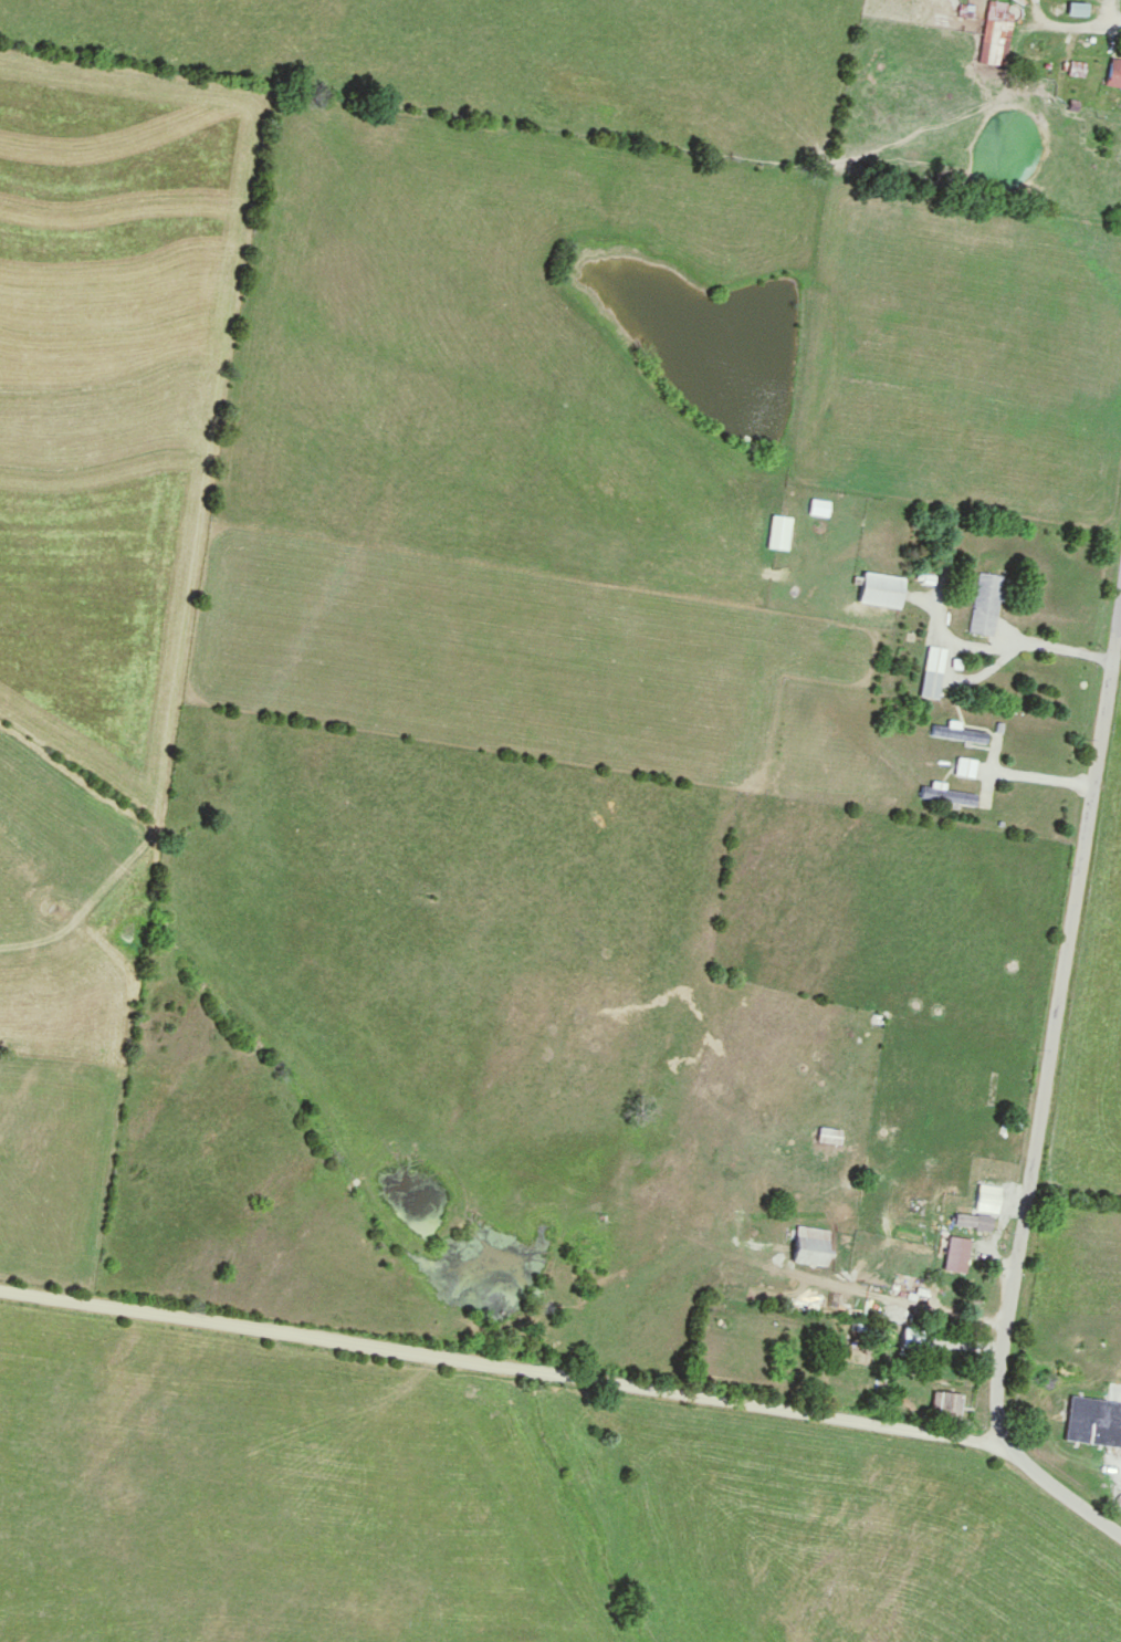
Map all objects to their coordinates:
building: (1078, 10)
building: (996, 43)
building: (1114, 75)
building: (819, 510)
building: (779, 534)
building: (881, 592)
building: (985, 605)
building: (932, 671)
building: (958, 732)
building: (965, 766)
building: (949, 795)
road: (1045, 1110)
building: (831, 1136)
building: (974, 1222)
building: (813, 1245)
building: (958, 1255)
building: (916, 1339)
road: (496, 1373)
building: (947, 1405)
building: (1094, 1421)

